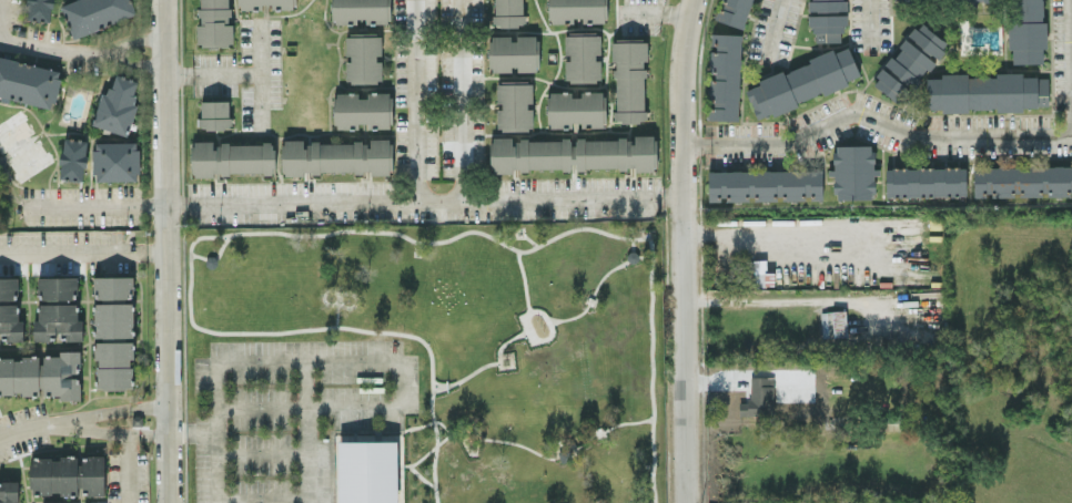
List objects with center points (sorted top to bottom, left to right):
building: (827, 4)
building: (250, 6)
building: (40, 10)
building: (576, 10)
building: (361, 11)
road: (660, 11)
building: (507, 12)
building: (734, 12)
building: (93, 13)
road: (871, 19)
building: (214, 23)
road: (778, 24)
building: (827, 27)
building: (1025, 30)
road: (57, 49)
road: (115, 51)
building: (513, 52)
building: (581, 55)
building: (363, 57)
building: (909, 62)
road: (215, 72)
building: (725, 75)
road: (261, 76)
building: (629, 78)
building: (801, 81)
building: (28, 82)
building: (985, 91)
road: (689, 96)
road: (462, 99)
road: (415, 100)
road: (172, 101)
building: (514, 104)
building: (117, 105)
building: (363, 109)
building: (576, 109)
building: (214, 113)
road: (888, 123)
road: (699, 136)
building: (572, 153)
building: (336, 156)
building: (232, 157)
building: (73, 158)
building: (115, 160)
building: (853, 171)
building: (924, 181)
building: (1022, 181)
building: (765, 184)
road: (431, 198)
road: (98, 204)
road: (768, 230)
road: (160, 247)
road: (73, 248)
building: (759, 273)
building: (113, 286)
building: (9, 287)
building: (57, 287)
building: (113, 319)
building: (11, 321)
building: (57, 321)
building: (833, 322)
road: (689, 348)
road: (174, 352)
road: (304, 360)
building: (114, 362)
building: (41, 374)
road: (394, 382)
road: (152, 404)
road: (304, 406)
road: (74, 421)
road: (34, 424)
road: (158, 432)
road: (195, 432)
road: (216, 432)
road: (304, 432)
road: (260, 454)
road: (128, 468)
building: (367, 471)
building: (68, 474)
building: (8, 491)
road: (261, 499)

